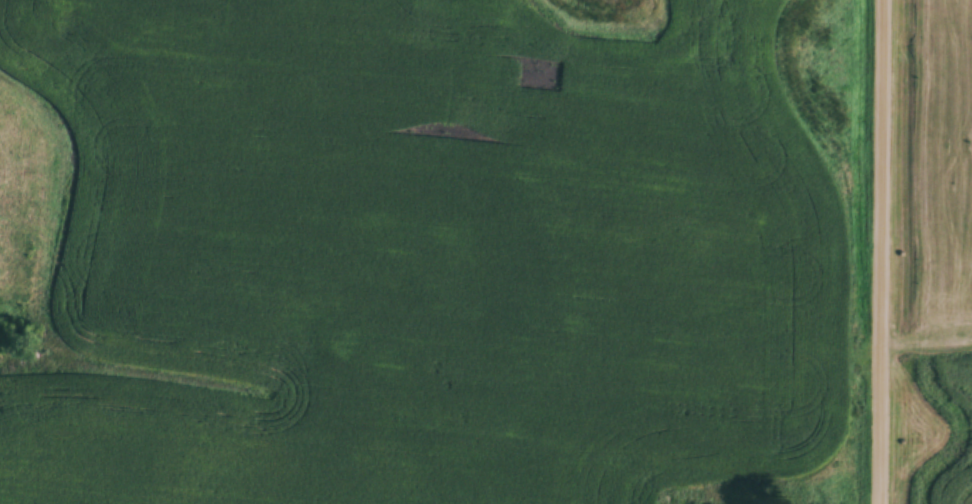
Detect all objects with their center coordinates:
road: (883, 252)

